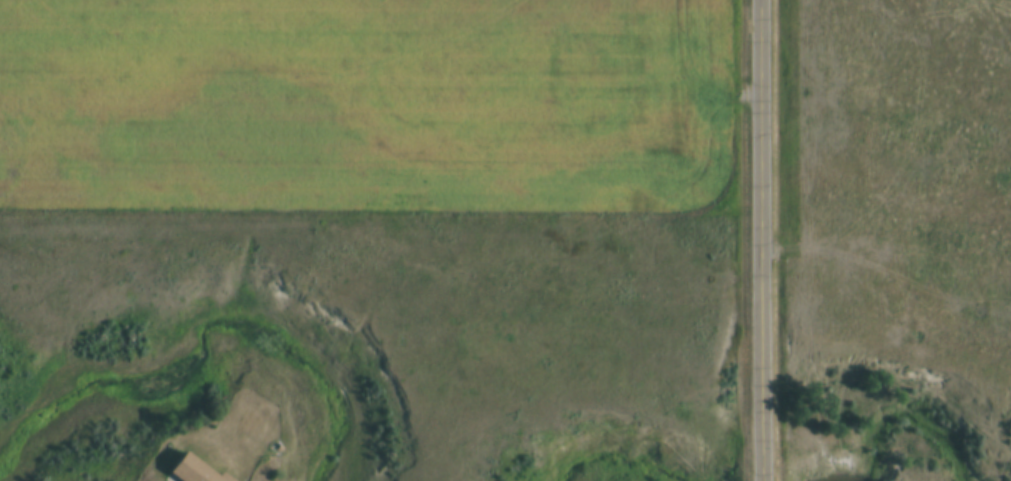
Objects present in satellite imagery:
road: (641, 94)
road: (760, 240)
building: (191, 471)

